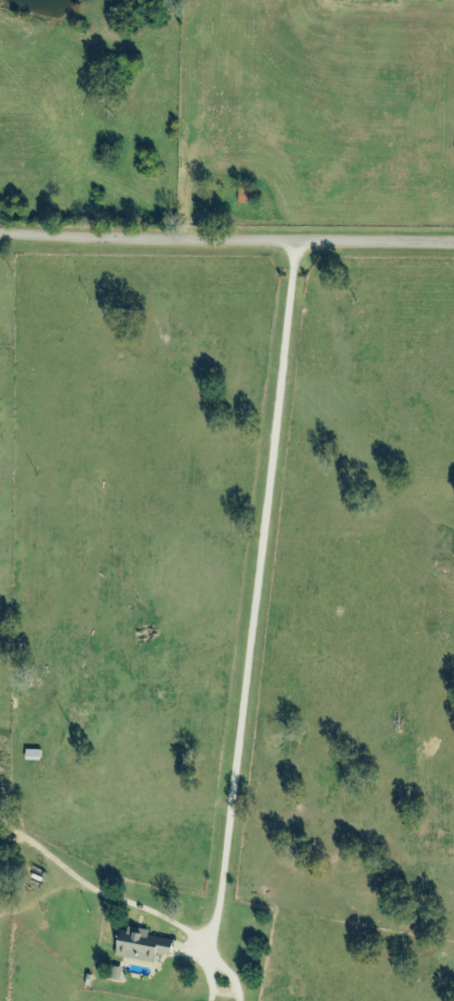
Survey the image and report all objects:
road: (226, 241)
building: (143, 947)

